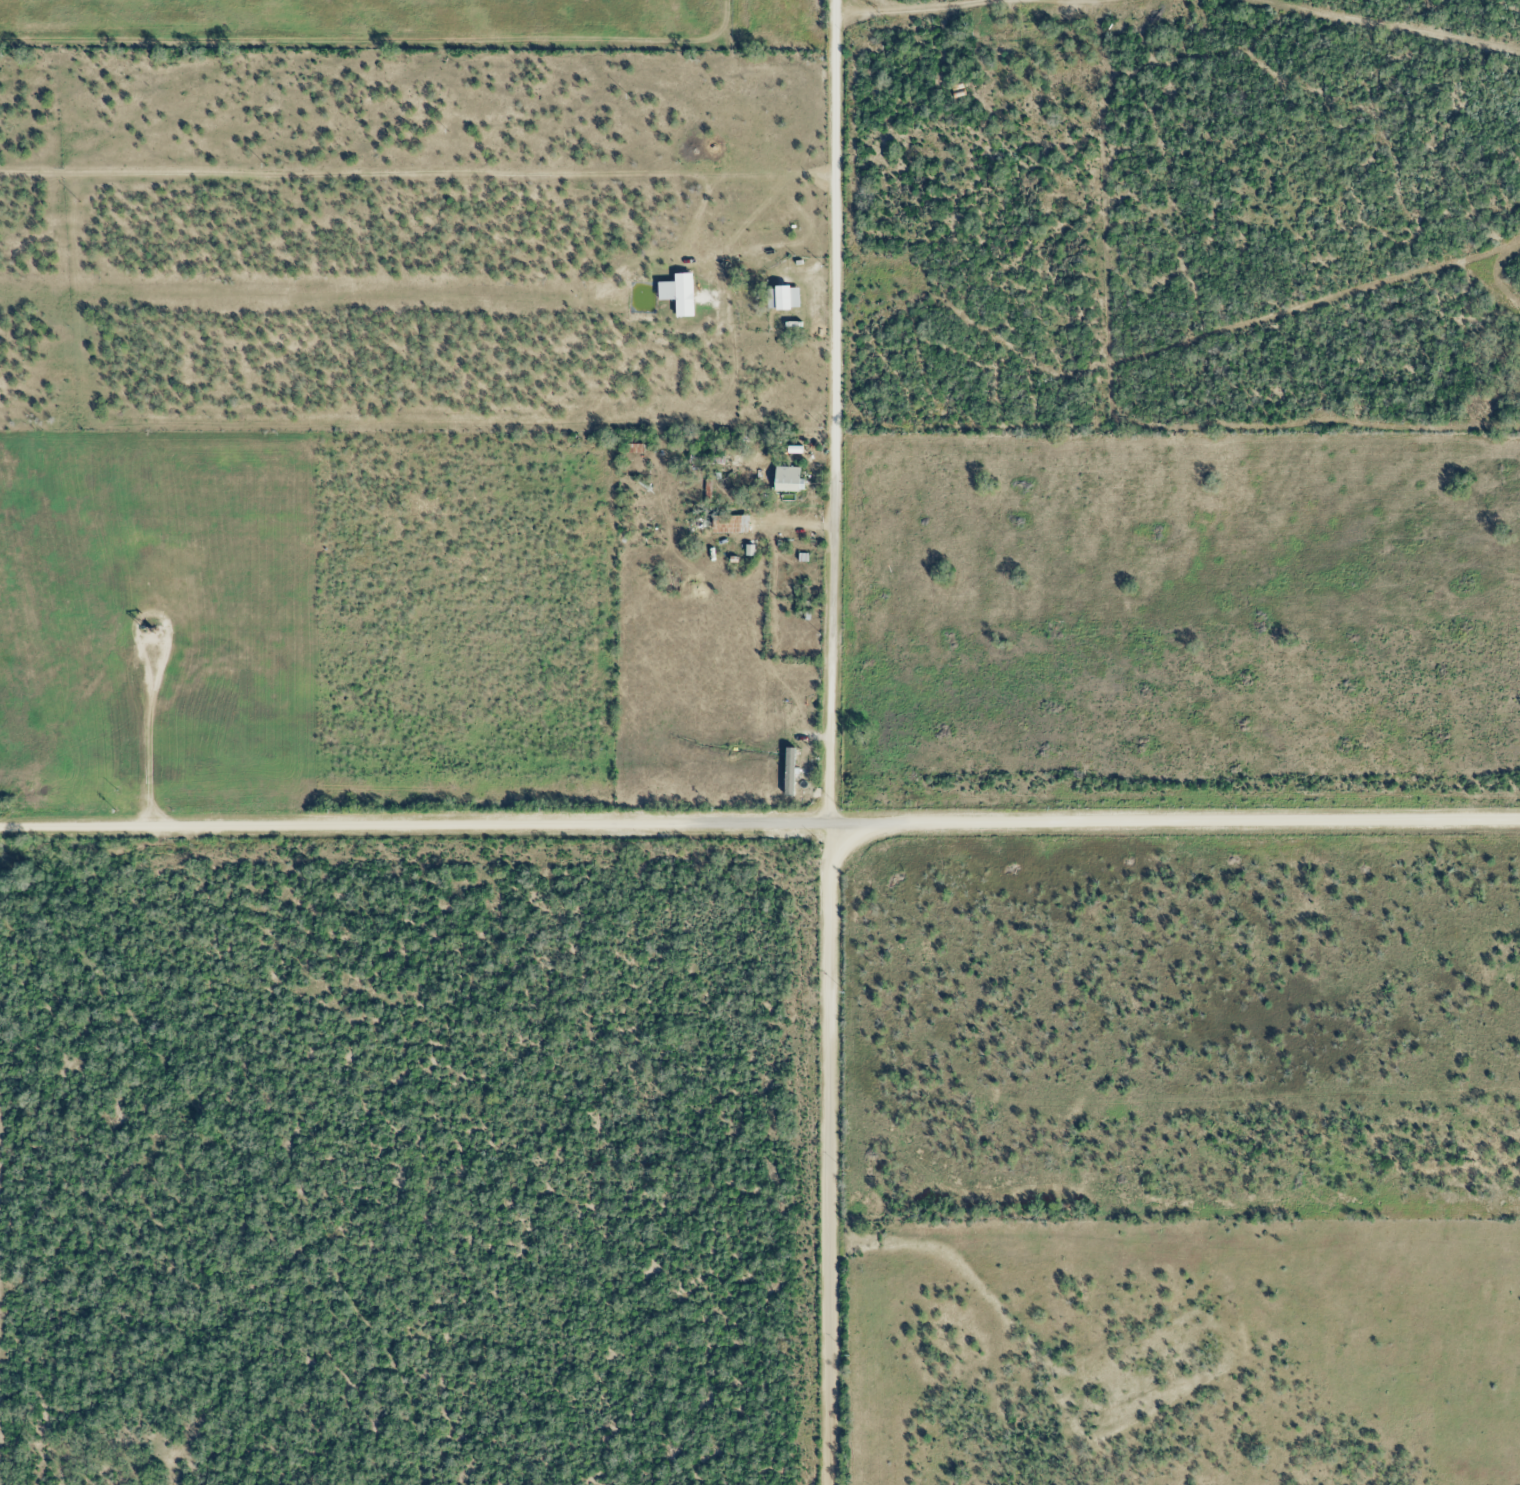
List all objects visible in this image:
building: (957, 90)
building: (682, 294)
building: (783, 295)
building: (786, 478)
building: (730, 523)
road: (153, 686)
road: (830, 742)
road: (760, 825)

